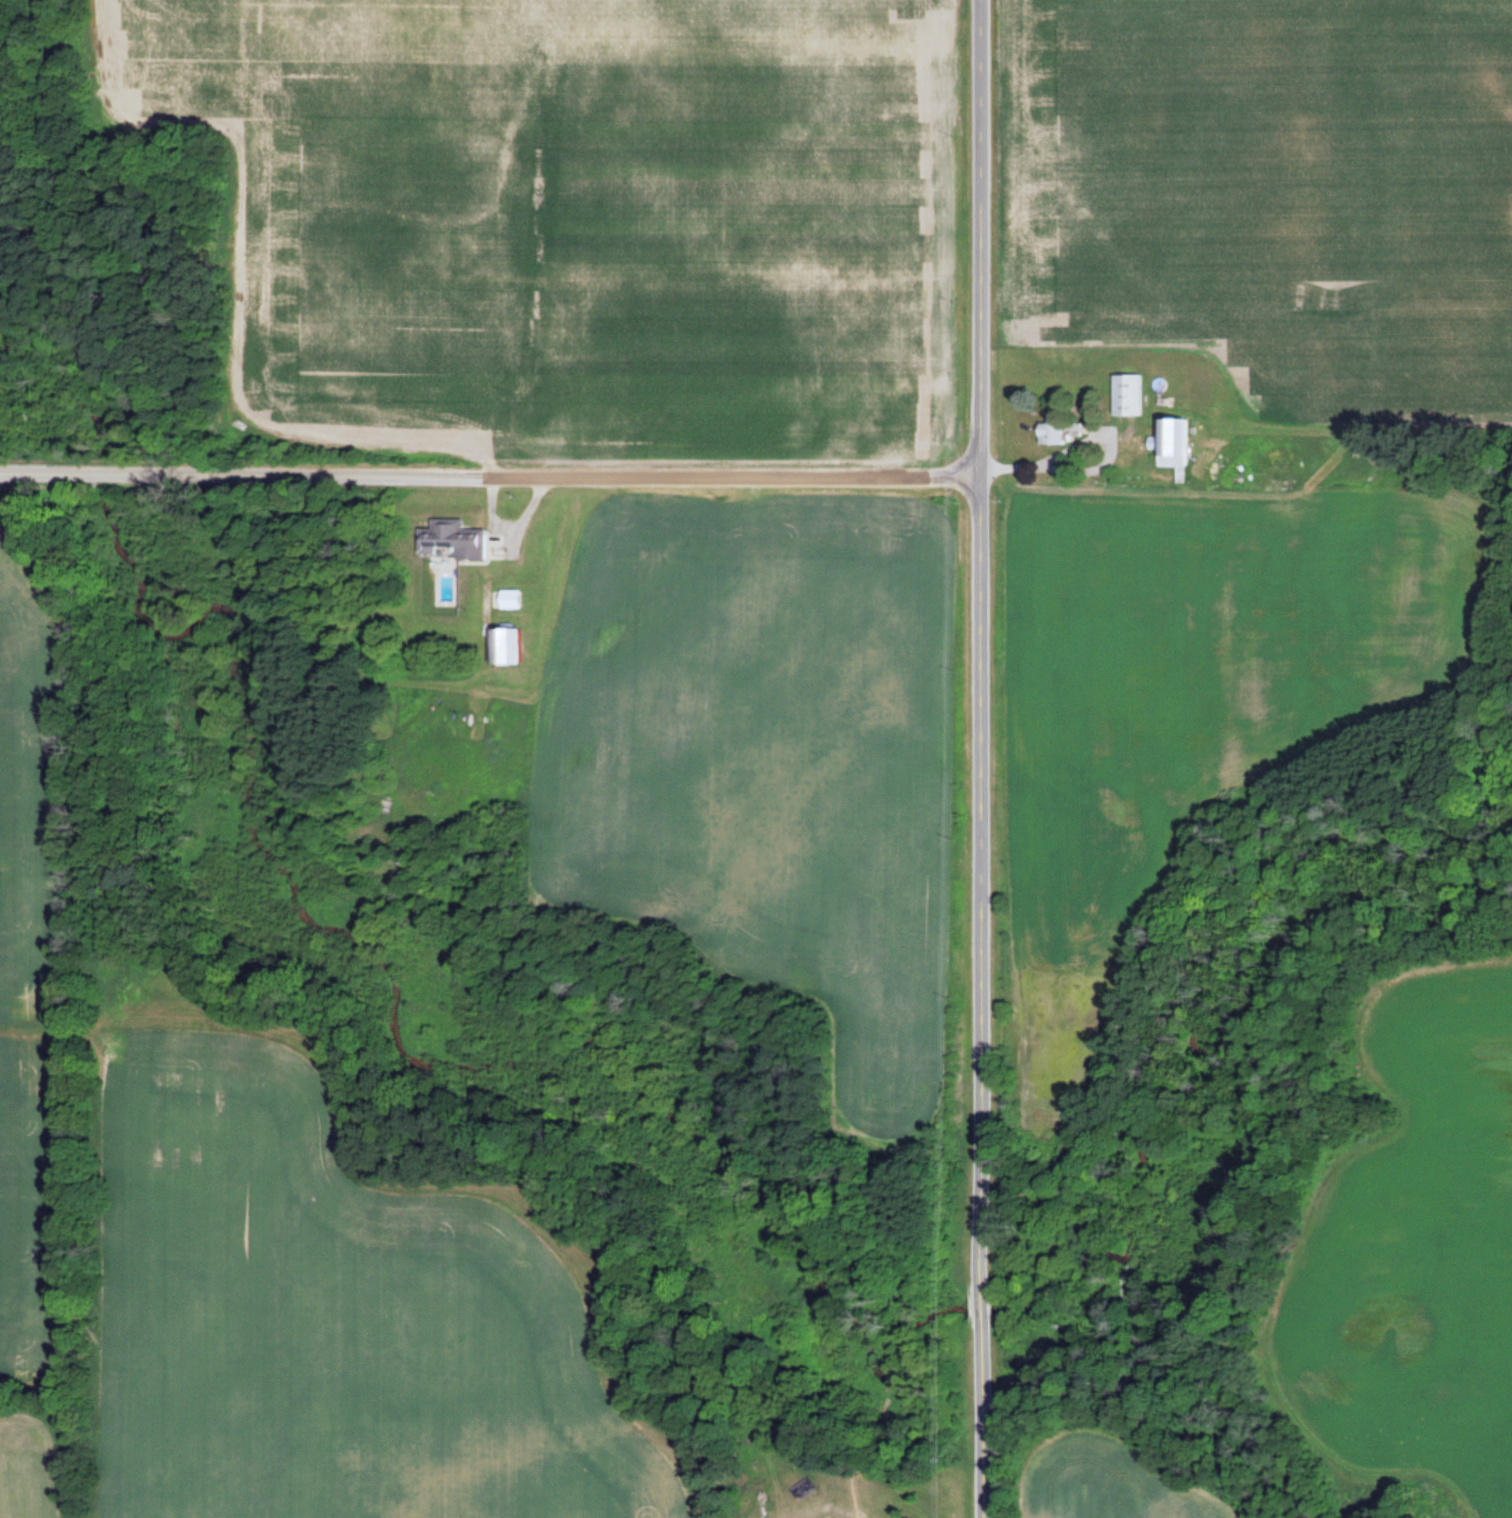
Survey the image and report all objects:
building: (1133, 394)
building: (1066, 429)
building: (1179, 445)
road: (483, 465)
building: (461, 539)
building: (517, 599)
building: (514, 647)
road: (966, 758)

